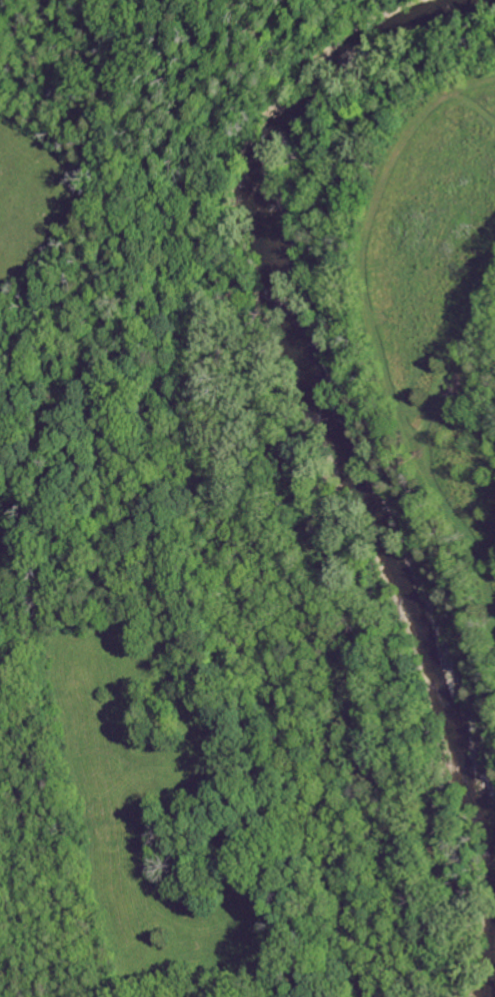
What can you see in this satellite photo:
river: (332, 441)

